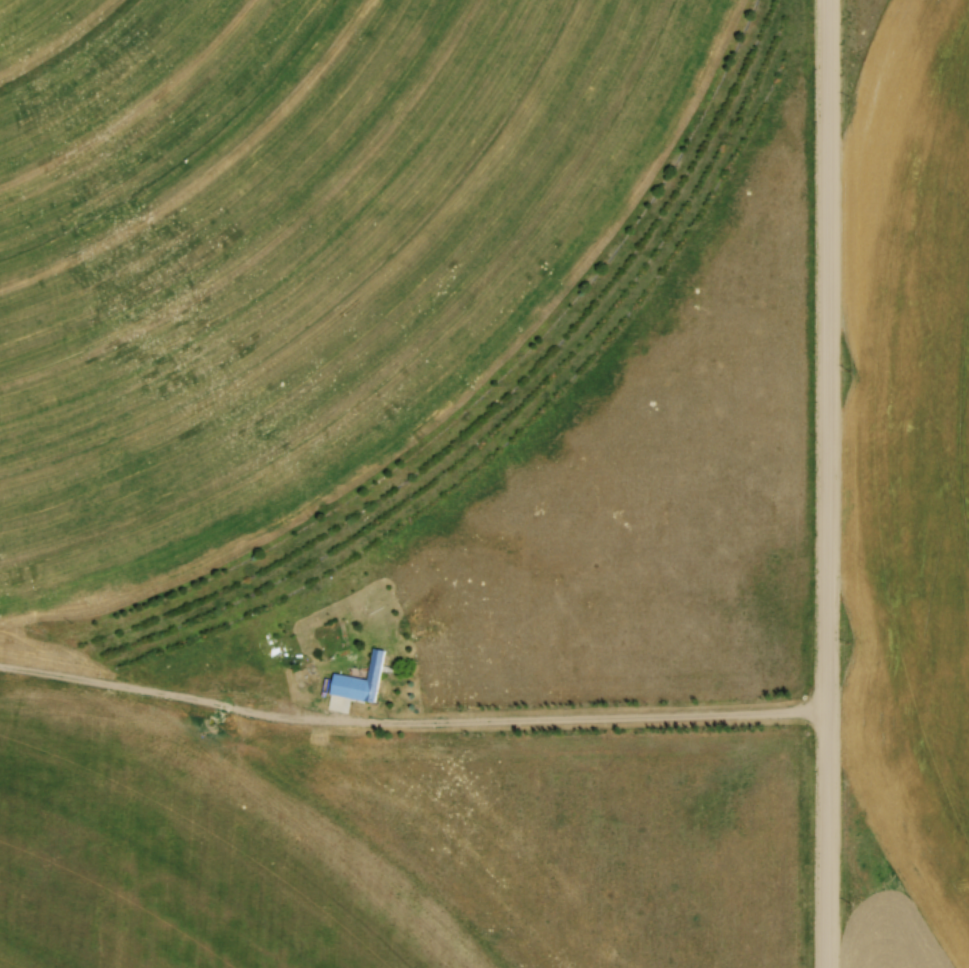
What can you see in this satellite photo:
road: (832, 484)
building: (347, 686)
road: (600, 722)

